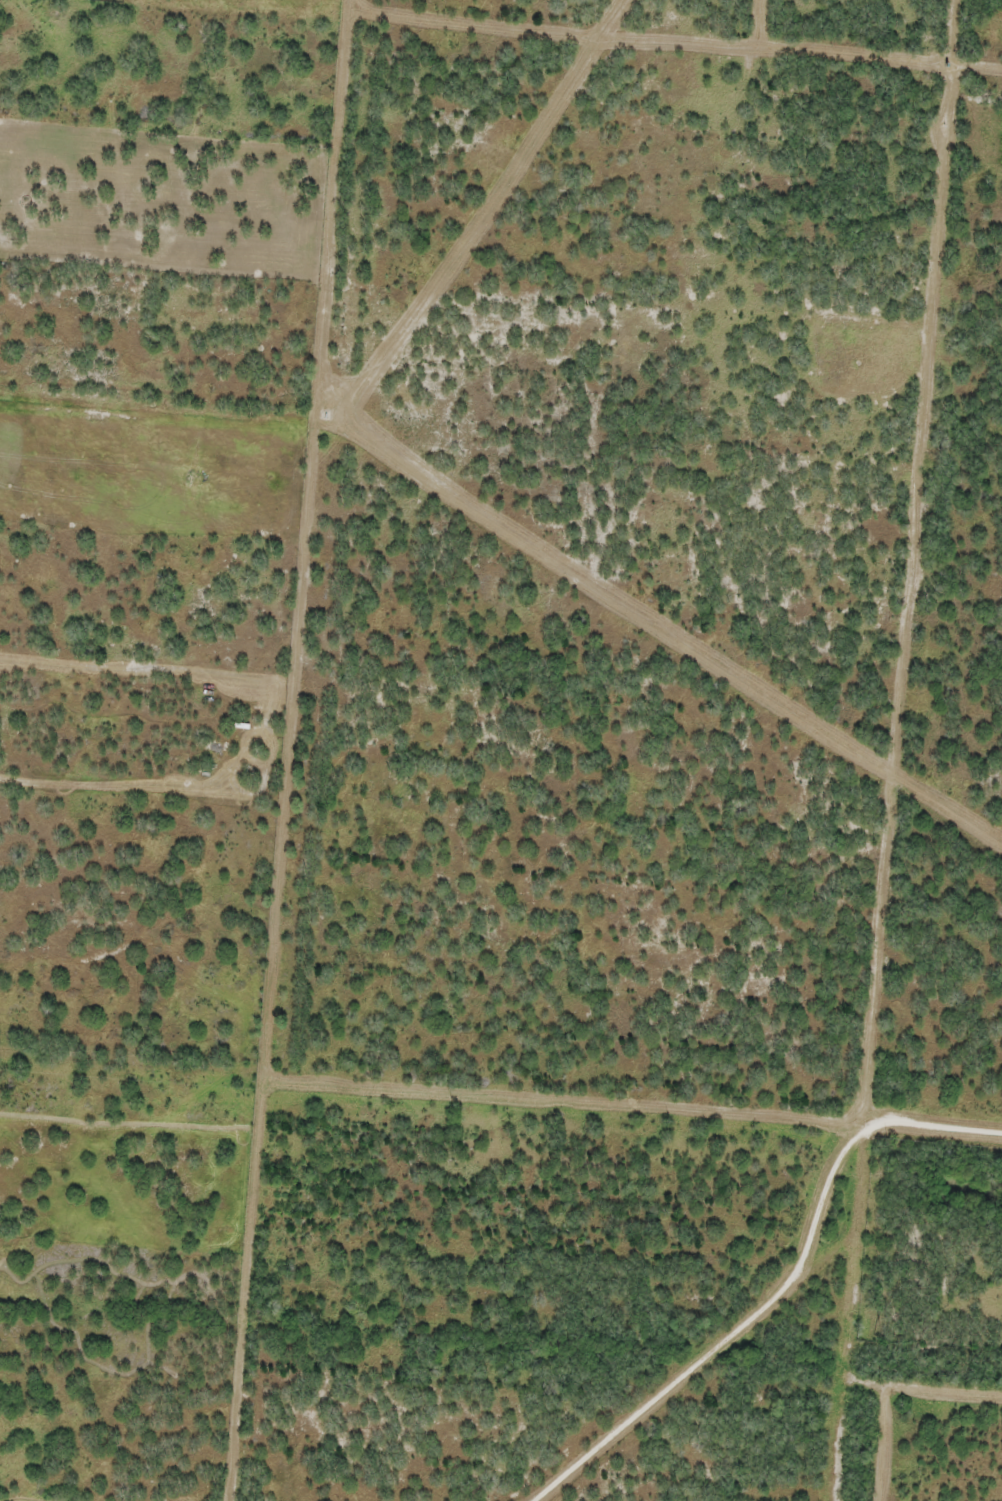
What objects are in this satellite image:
road: (501, 1263)
road: (431, 1303)
road: (859, 1431)

